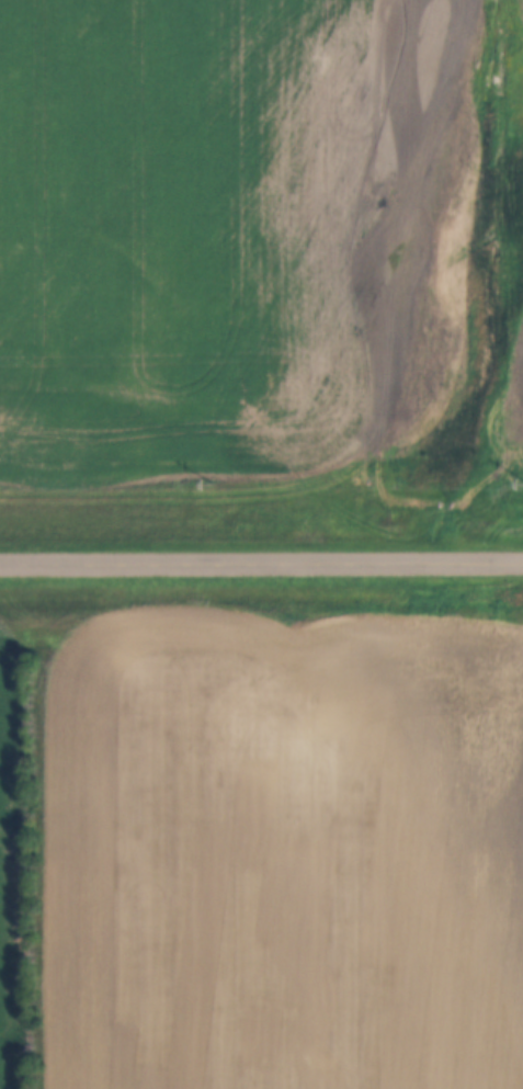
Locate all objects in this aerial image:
road: (261, 564)

